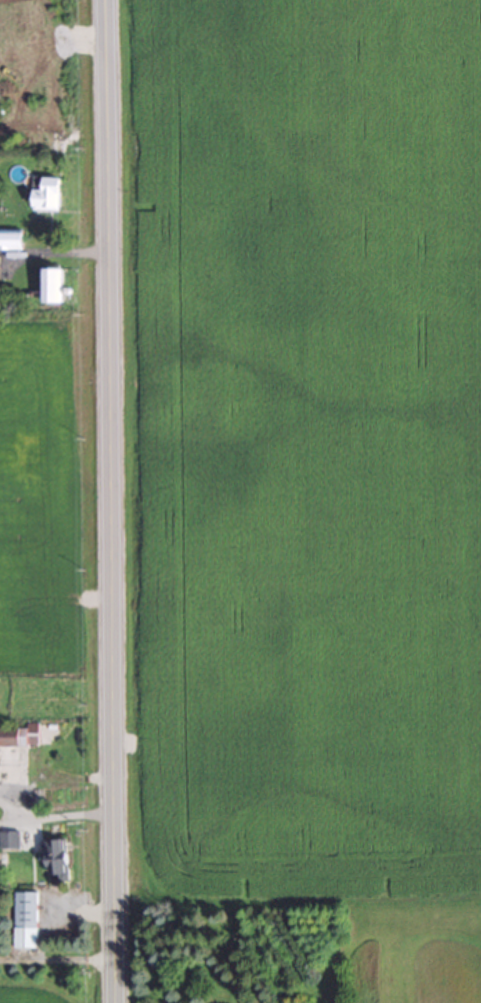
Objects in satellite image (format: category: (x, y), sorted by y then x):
building: (45, 193)
building: (10, 241)
building: (55, 286)
road: (106, 501)
building: (19, 735)
road: (4, 809)
road: (58, 814)
road: (4, 817)
building: (8, 839)
building: (24, 918)

